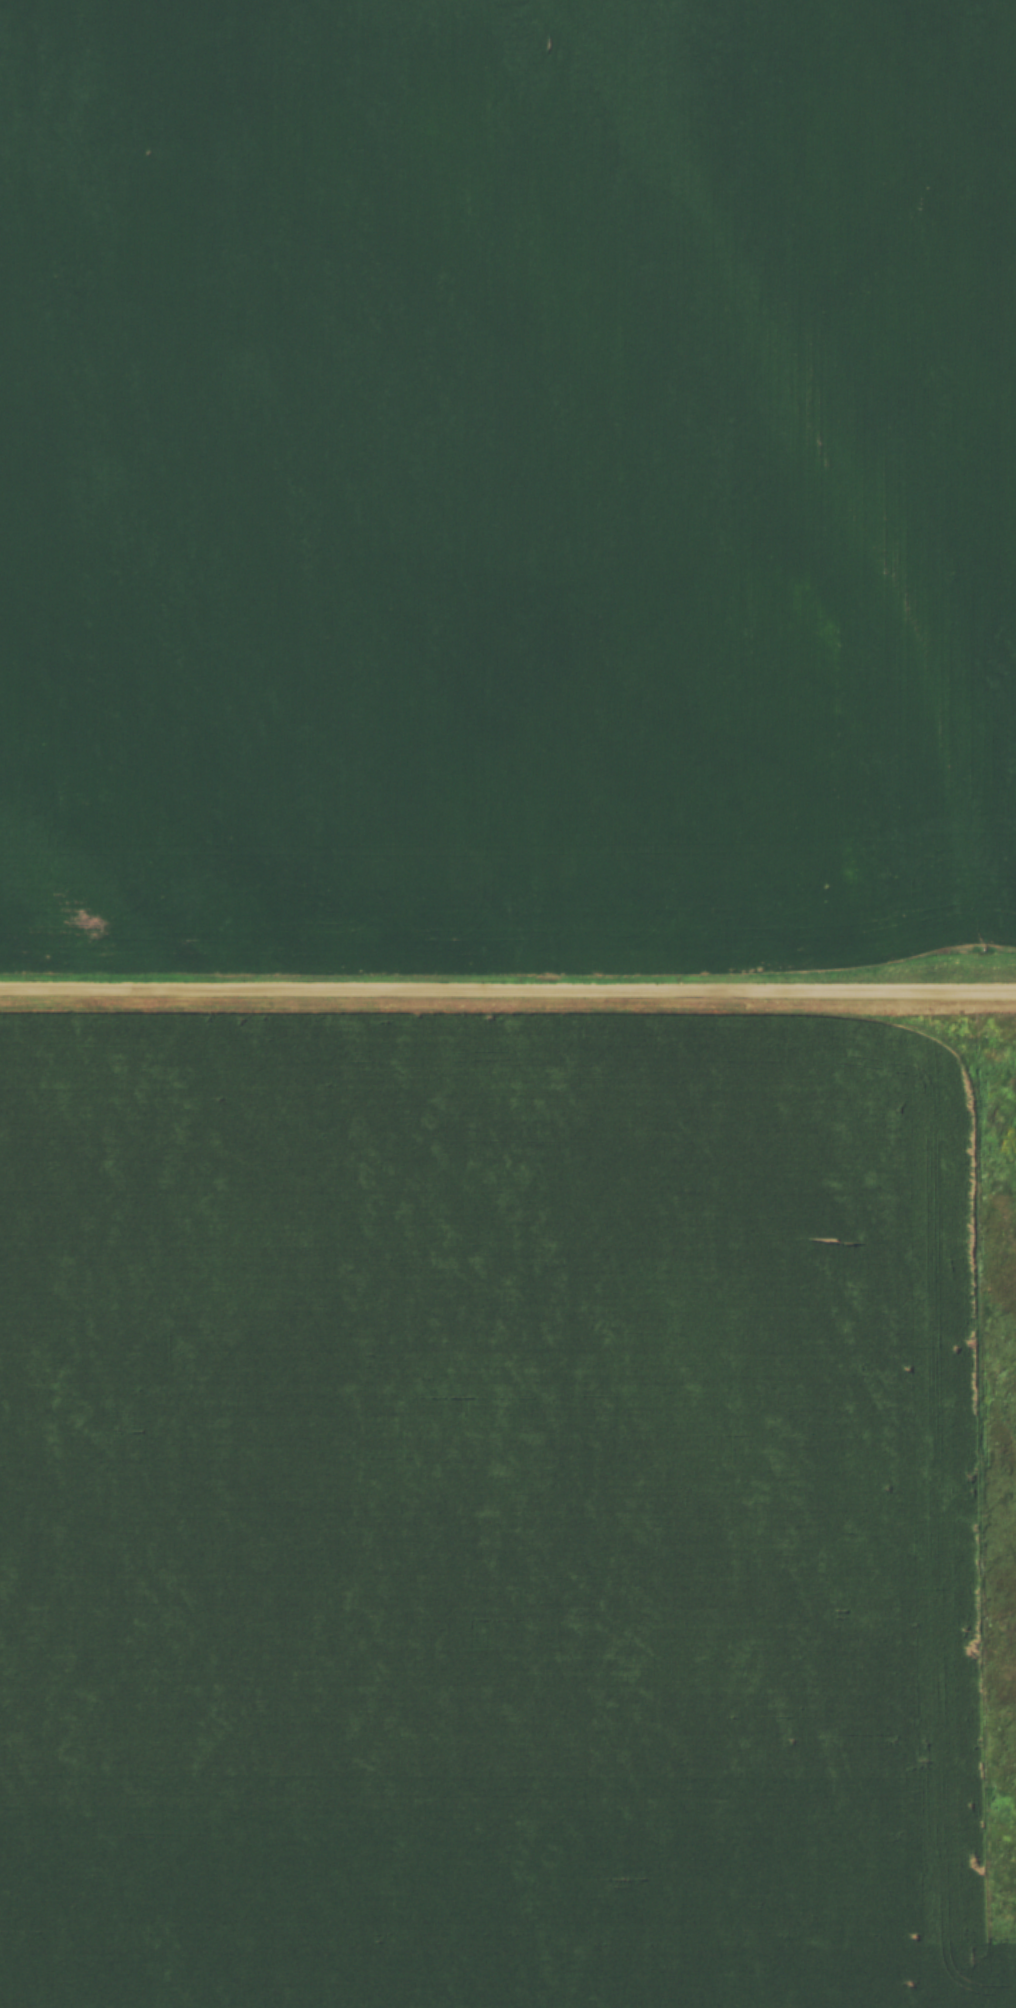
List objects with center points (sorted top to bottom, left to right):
road: (507, 1018)

